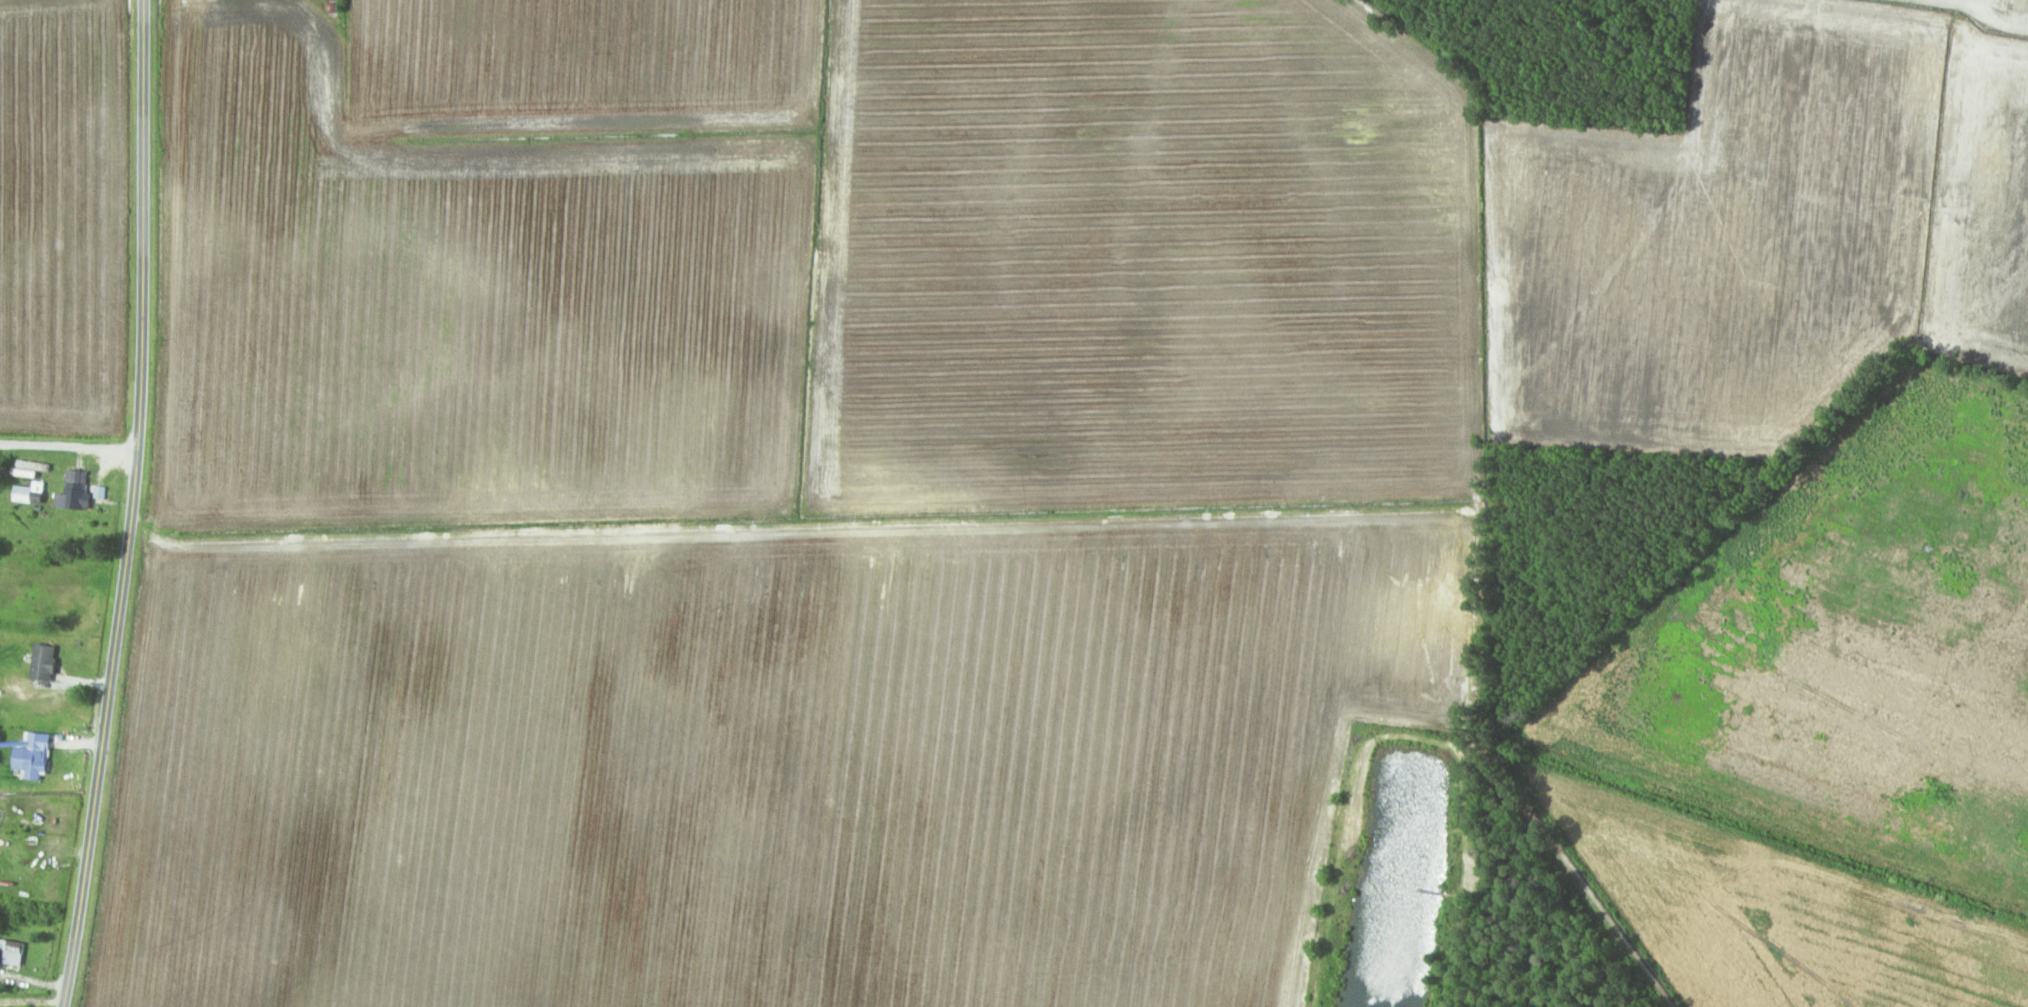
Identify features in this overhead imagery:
building: (38, 490)
building: (75, 496)
road: (132, 505)
building: (44, 663)
building: (33, 756)
building: (26, 876)
building: (12, 952)

